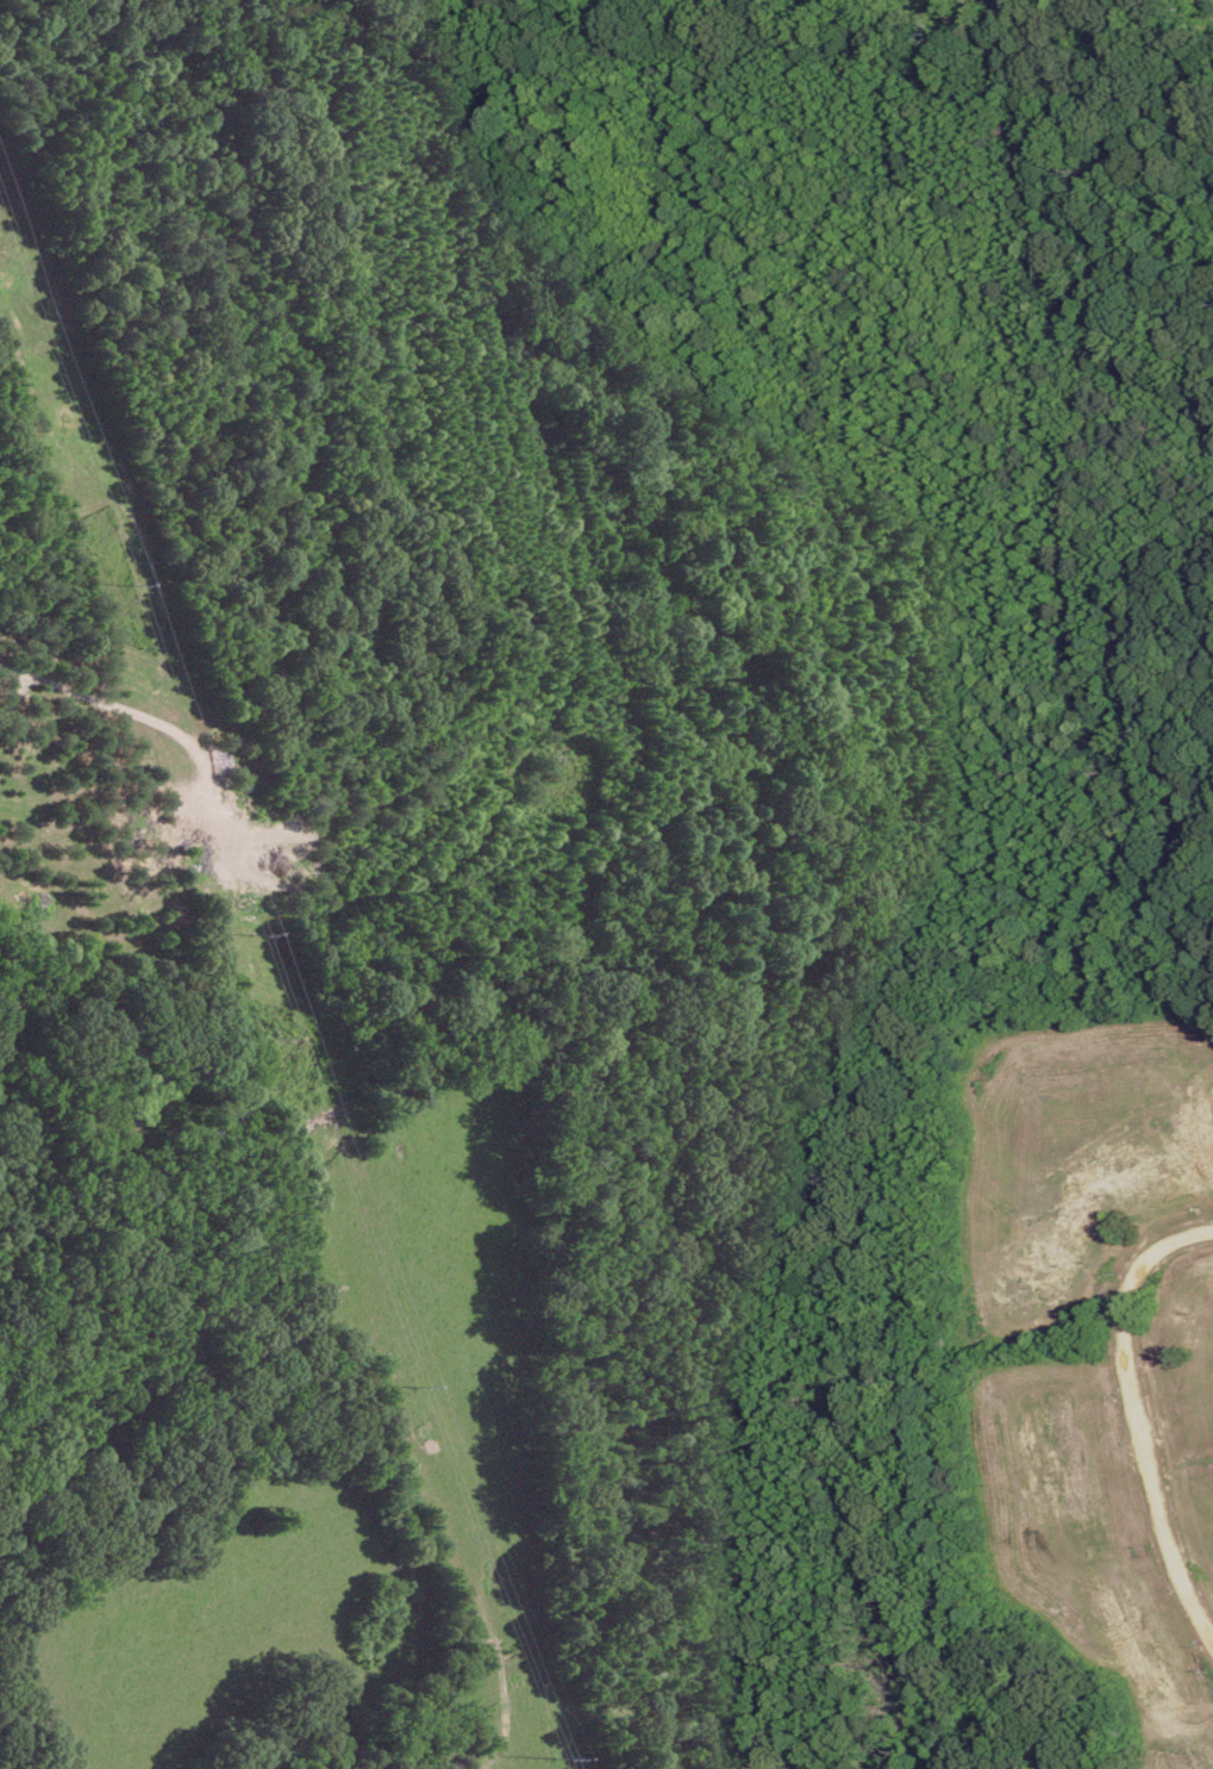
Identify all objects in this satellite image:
road: (1139, 1418)

